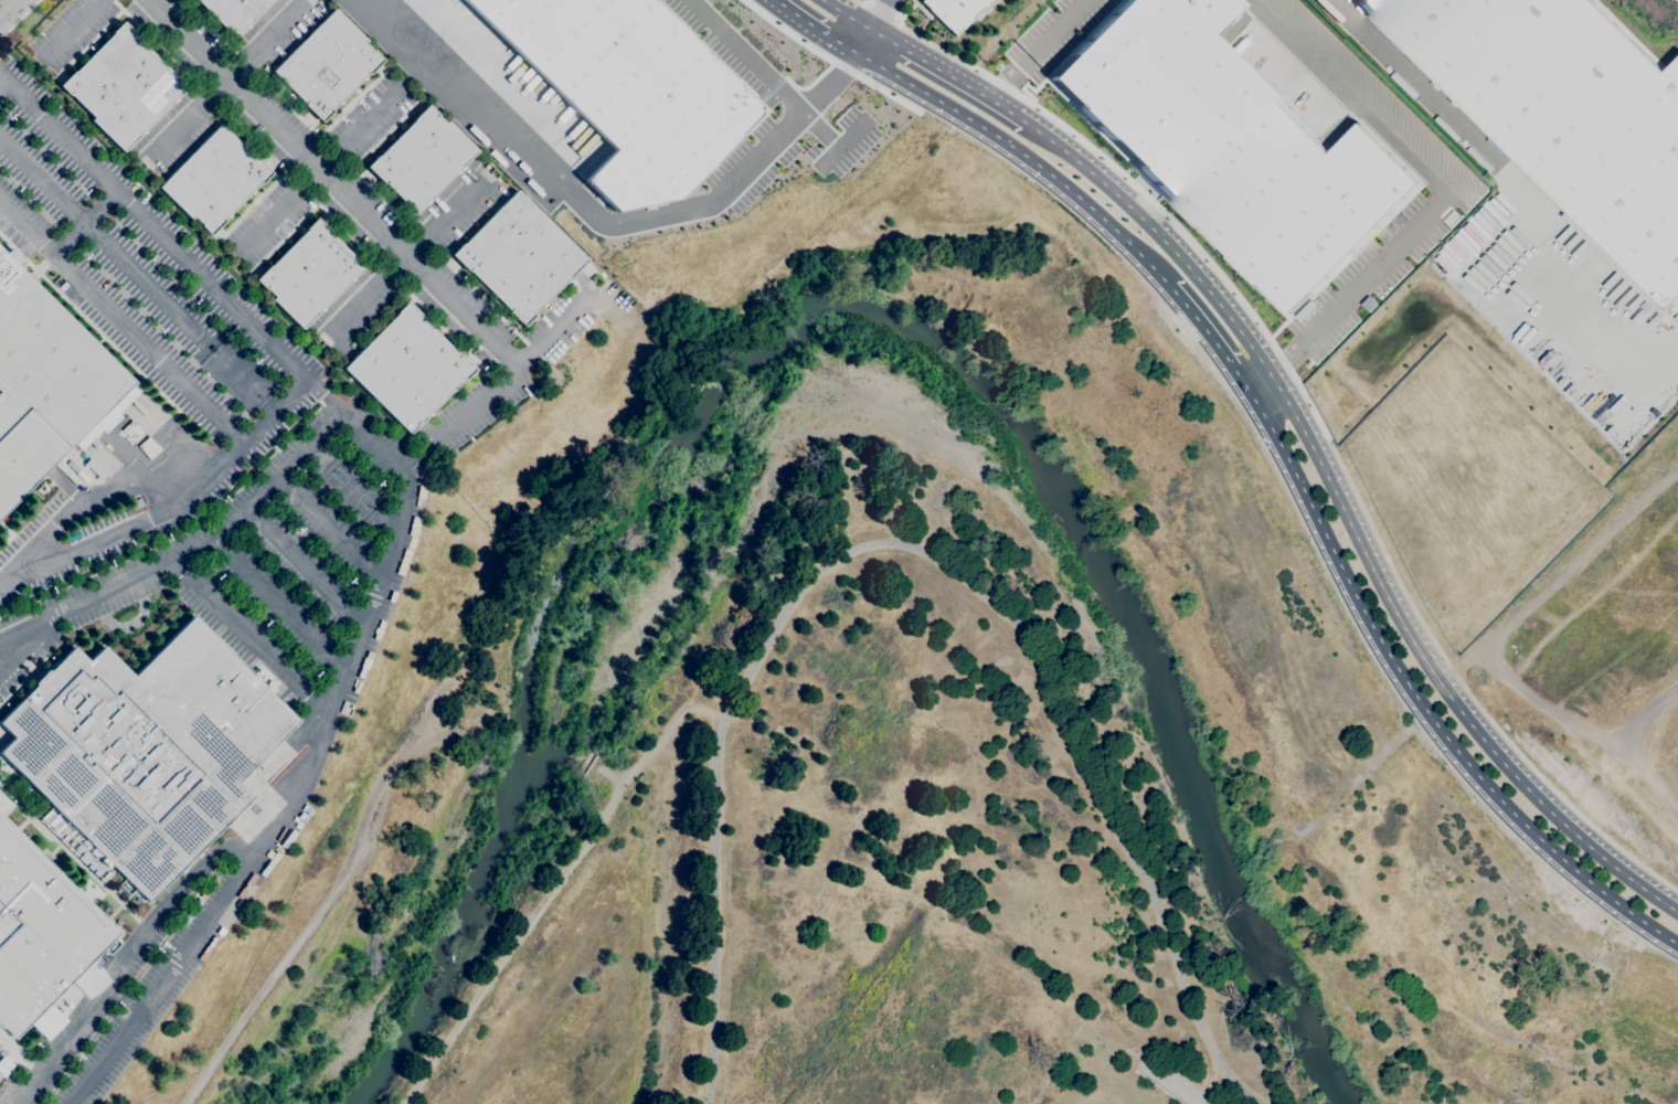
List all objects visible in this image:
road: (9, 2)
road: (7, 8)
building: (954, 11)
building: (234, 12)
road: (848, 14)
road: (881, 14)
road: (19, 19)
road: (814, 26)
road: (74, 28)
road: (788, 33)
road: (863, 42)
road: (1036, 49)
road: (743, 54)
building: (327, 64)
road: (947, 74)
road: (227, 83)
building: (123, 86)
road: (3, 88)
road: (878, 88)
building: (629, 89)
building: (1563, 114)
road: (818, 128)
road: (840, 145)
building: (1230, 147)
road: (1022, 157)
building: (421, 159)
road: (320, 169)
building: (213, 179)
road: (331, 183)
road: (1443, 195)
road: (1538, 209)
road: (86, 223)
road: (603, 223)
building: (519, 257)
road: (407, 264)
building: (308, 273)
road: (138, 274)
parking lot: (147, 279)
river: (845, 308)
building: (1676, 317)
road: (123, 322)
road: (1176, 322)
road: (1210, 339)
building: (407, 368)
road: (518, 368)
building: (47, 384)
road: (1309, 406)
road: (354, 486)
road: (99, 493)
building: (136, 503)
road: (172, 506)
road: (1348, 519)
road: (331, 526)
road: (916, 548)
road: (399, 549)
road: (190, 552)
road: (307, 564)
parking lot: (297, 566)
road: (284, 604)
road: (251, 639)
road: (30, 645)
road: (1421, 703)
building: (146, 750)
building: (3, 800)
building: (50, 817)
building: (57, 824)
building: (64, 837)
building: (78, 848)
building: (89, 863)
road: (554, 891)
road: (310, 924)
building: (40, 932)
road: (132, 963)
road: (127, 1001)
road: (1172, 1083)
road: (1158, 1089)

